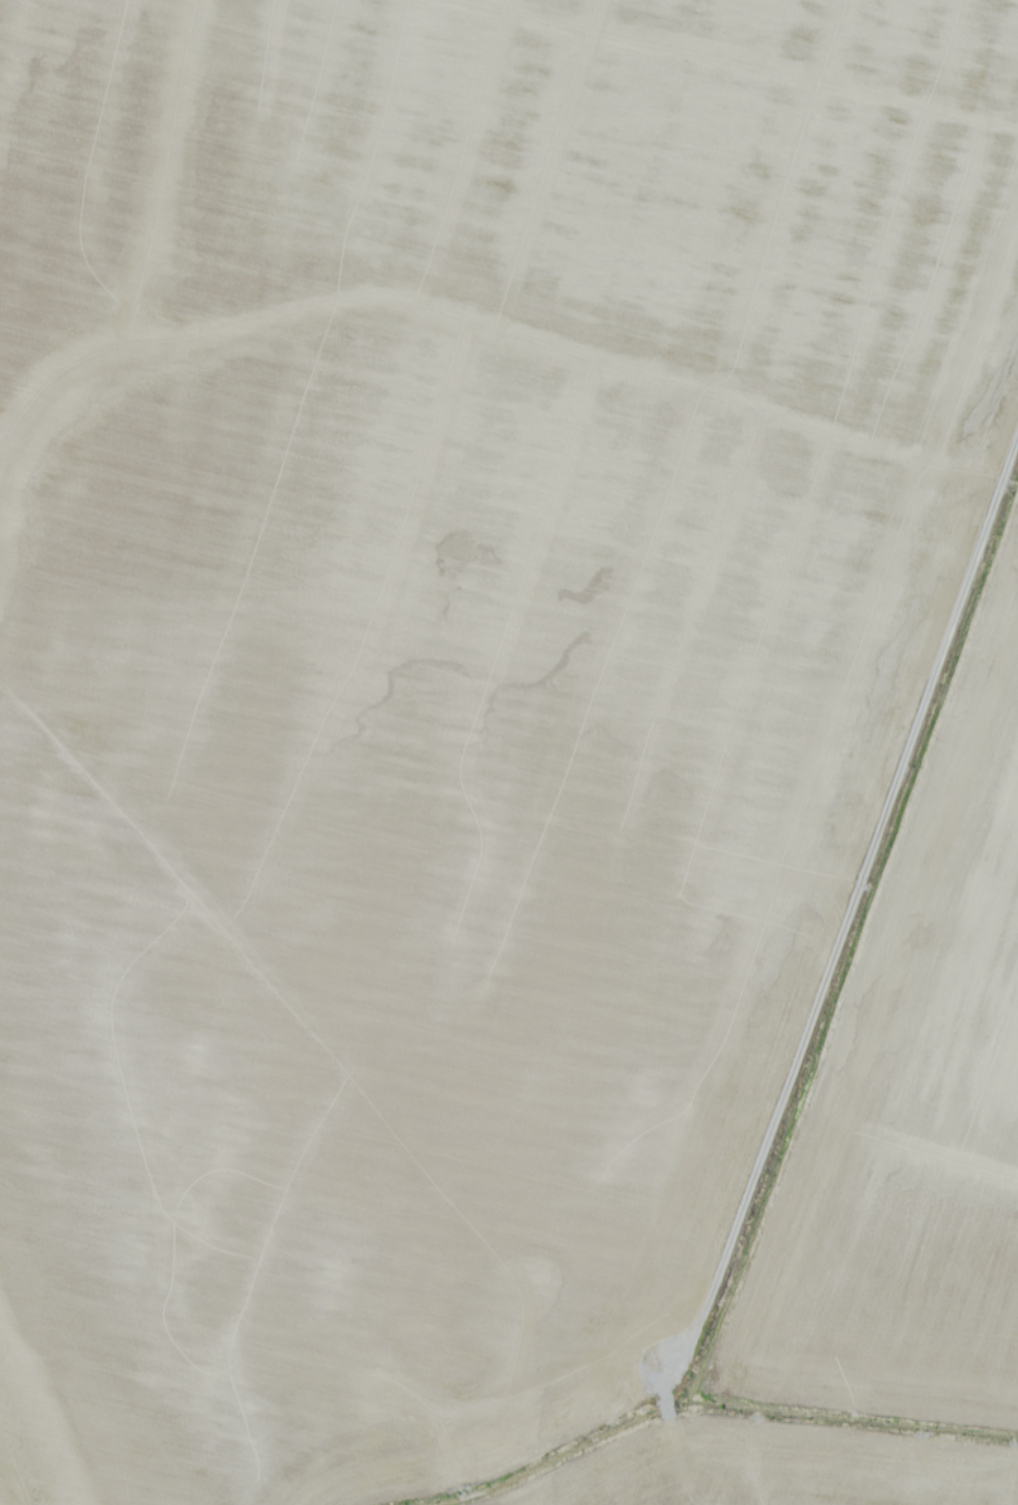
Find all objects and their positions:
road: (168, 232)

